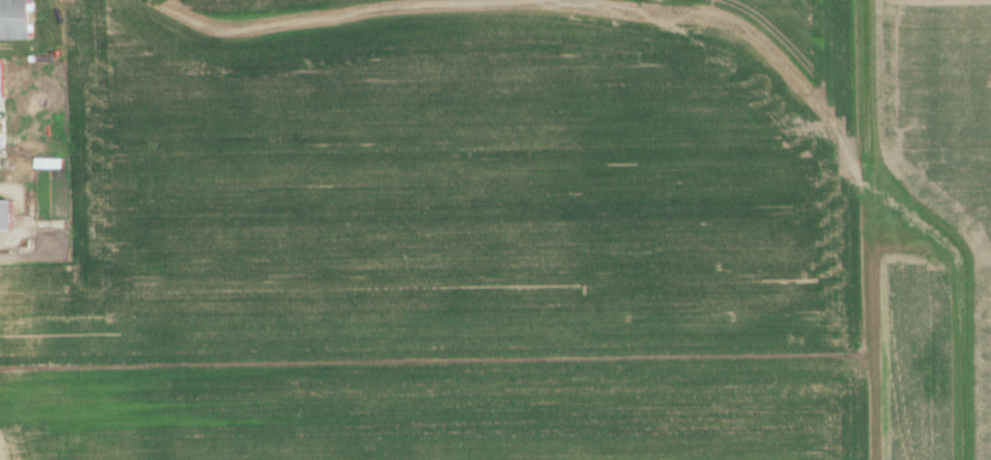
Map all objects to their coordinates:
building: (18, 19)
building: (3, 79)
building: (47, 163)
building: (9, 216)

